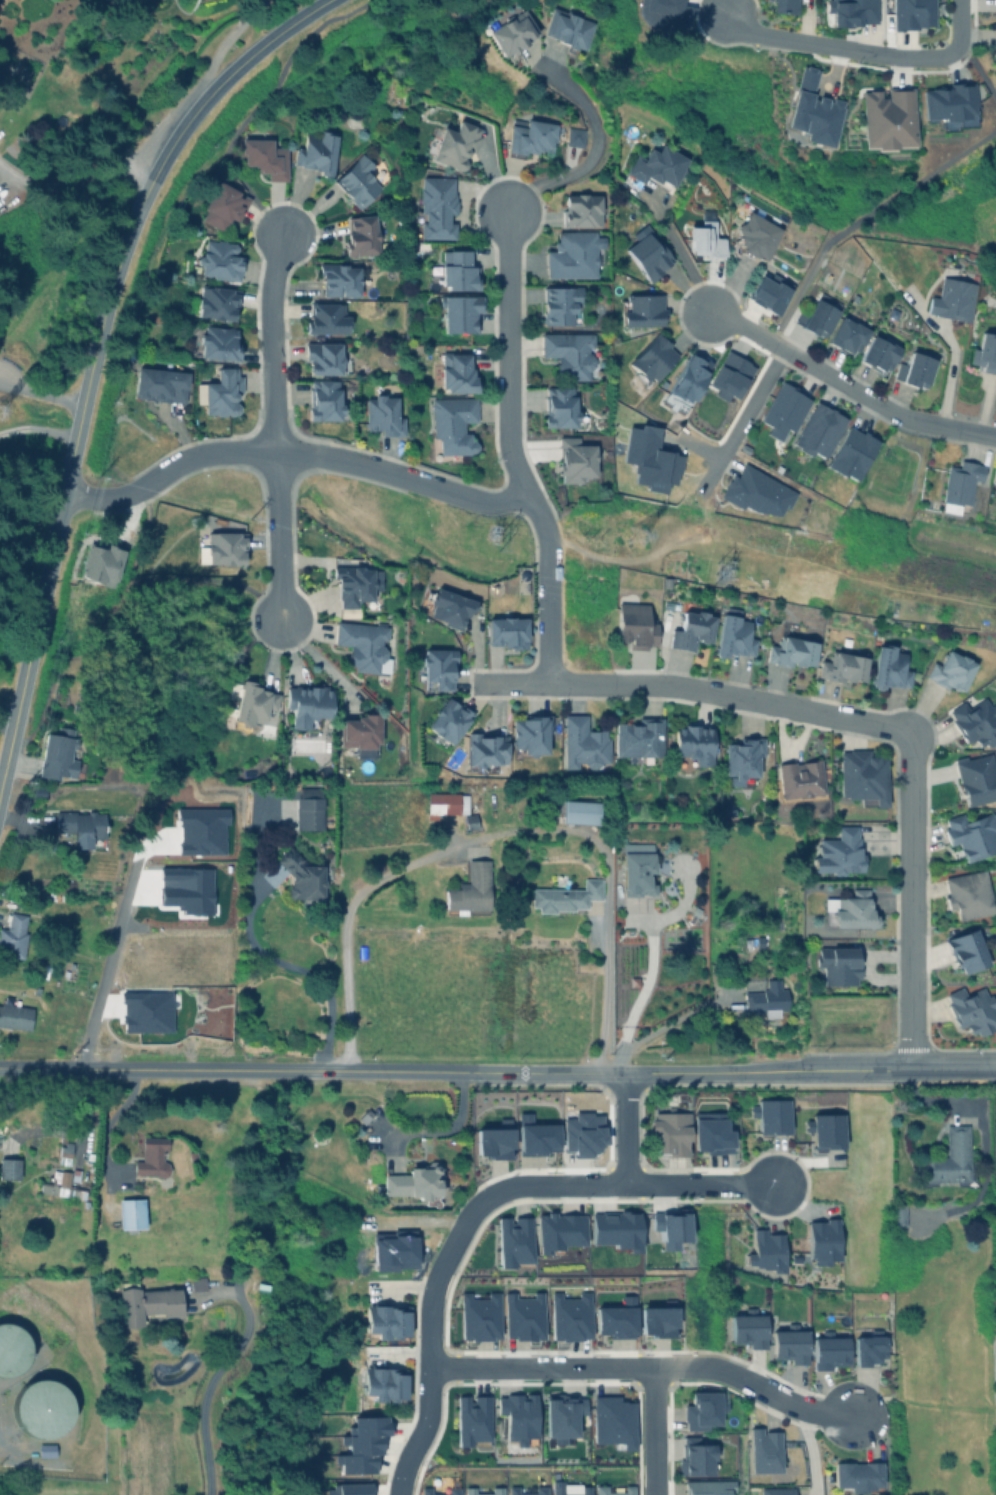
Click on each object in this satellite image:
building: (783, 6)
road: (246, 10)
road: (253, 10)
building: (851, 12)
building: (659, 13)
building: (912, 14)
building: (567, 29)
building: (511, 33)
road: (860, 51)
road: (216, 54)
building: (993, 55)
road: (978, 72)
building: (948, 103)
building: (812, 110)
building: (887, 119)
building: (574, 137)
building: (531, 138)
building: (455, 145)
road: (594, 149)
building: (316, 153)
building: (265, 158)
building: (656, 166)
road: (78, 172)
building: (357, 181)
building: (222, 206)
building: (436, 207)
building: (581, 210)
road: (864, 214)
building: (361, 235)
building: (755, 236)
building: (704, 240)
road: (679, 250)
building: (647, 253)
building: (571, 255)
building: (219, 261)
building: (456, 271)
building: (339, 281)
building: (767, 294)
building: (951, 299)
building: (216, 303)
building: (559, 305)
building: (642, 310)
building: (459, 313)
road: (722, 316)
building: (325, 318)
building: (818, 318)
road: (754, 332)
building: (846, 336)
building: (218, 343)
road: (93, 353)
building: (568, 353)
building: (878, 354)
building: (984, 354)
building: (322, 358)
building: (651, 359)
building: (913, 370)
building: (456, 372)
road: (507, 372)
road: (956, 372)
building: (729, 376)
building: (688, 378)
building: (160, 385)
building: (222, 393)
road: (41, 395)
building: (323, 400)
road: (877, 404)
building: (559, 407)
building: (783, 410)
building: (383, 416)
road: (755, 420)
building: (452, 424)
road: (38, 426)
road: (274, 426)
building: (817, 430)
road: (291, 452)
building: (850, 453)
building: (574, 460)
building: (959, 485)
building: (755, 492)
power tower: (635, 547)
building: (222, 549)
building: (100, 565)
building: (355, 585)
road: (546, 605)
building: (449, 607)
building: (634, 626)
building: (691, 630)
building: (505, 632)
building: (734, 637)
building: (361, 644)
building: (790, 652)
road: (318, 663)
building: (842, 667)
building: (437, 669)
building: (889, 669)
building: (950, 671)
road: (695, 688)
building: (307, 704)
building: (255, 705)
building: (447, 720)
building: (975, 722)
road: (6, 725)
building: (358, 731)
building: (529, 734)
building: (638, 738)
building: (693, 744)
building: (583, 745)
building: (486, 749)
building: (57, 754)
building: (741, 759)
building: (862, 776)
building: (800, 779)
building: (976, 779)
building: (446, 803)
building: (580, 812)
building: (308, 813)
building: (80, 826)
building: (971, 835)
building: (838, 852)
building: (636, 874)
building: (299, 877)
building: (470, 889)
building: (968, 895)
building: (566, 897)
road: (910, 901)
road: (346, 919)
building: (13, 935)
building: (966, 951)
road: (110, 958)
building: (838, 965)
road: (297, 966)
road: (605, 975)
building: (752, 981)
road: (644, 988)
building: (766, 999)
building: (971, 1010)
building: (15, 1016)
road: (657, 1032)
road: (237, 1069)
road: (949, 1070)
road: (992, 1071)
road: (692, 1073)
building: (367, 1113)
building: (769, 1116)
road: (625, 1128)
building: (666, 1130)
building: (824, 1130)
building: (581, 1133)
building: (711, 1135)
building: (534, 1136)
building: (492, 1142)
building: (65, 1150)
building: (154, 1157)
building: (948, 1158)
building: (10, 1166)
building: (419, 1180)
building: (63, 1182)
road: (619, 1183)
building: (132, 1212)
building: (896, 1213)
building: (669, 1225)
building: (614, 1229)
building: (557, 1230)
building: (512, 1240)
building: (821, 1241)
building: (764, 1250)
building: (199, 1281)
building: (264, 1286)
building: (627, 1299)
building: (148, 1301)
building: (479, 1316)
building: (523, 1316)
building: (569, 1316)
building: (376, 1319)
building: (398, 1319)
building: (613, 1321)
building: (656, 1321)
building: (747, 1326)
building: (789, 1342)
building: (13, 1348)
road: (427, 1348)
building: (867, 1349)
building: (828, 1352)
road: (644, 1367)
road: (214, 1376)
building: (375, 1380)
building: (395, 1382)
building: (40, 1406)
building: (702, 1410)
building: (561, 1413)
building: (517, 1416)
building: (471, 1418)
building: (611, 1421)
road: (653, 1431)
road: (884, 1441)
building: (361, 1444)
building: (45, 1448)
building: (762, 1450)
road: (810, 1452)
building: (697, 1455)
building: (856, 1475)
building: (705, 1487)
building: (599, 1488)
building: (347, 1489)
building: (496, 1489)
building: (539, 1489)
building: (570, 1489)
building: (451, 1490)
building: (776, 1491)

